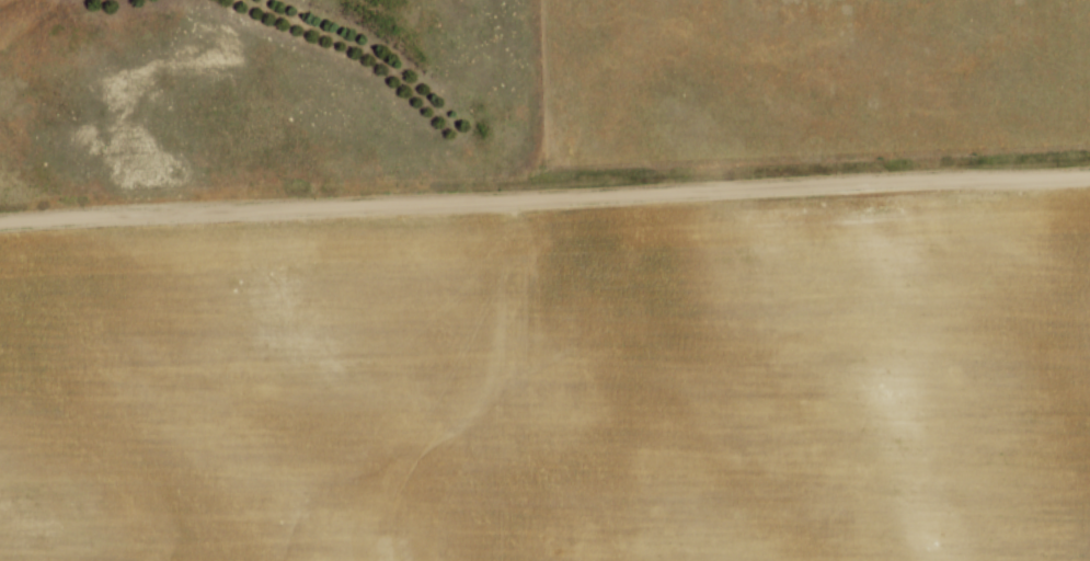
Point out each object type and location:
road: (544, 195)
crop: (555, 385)

